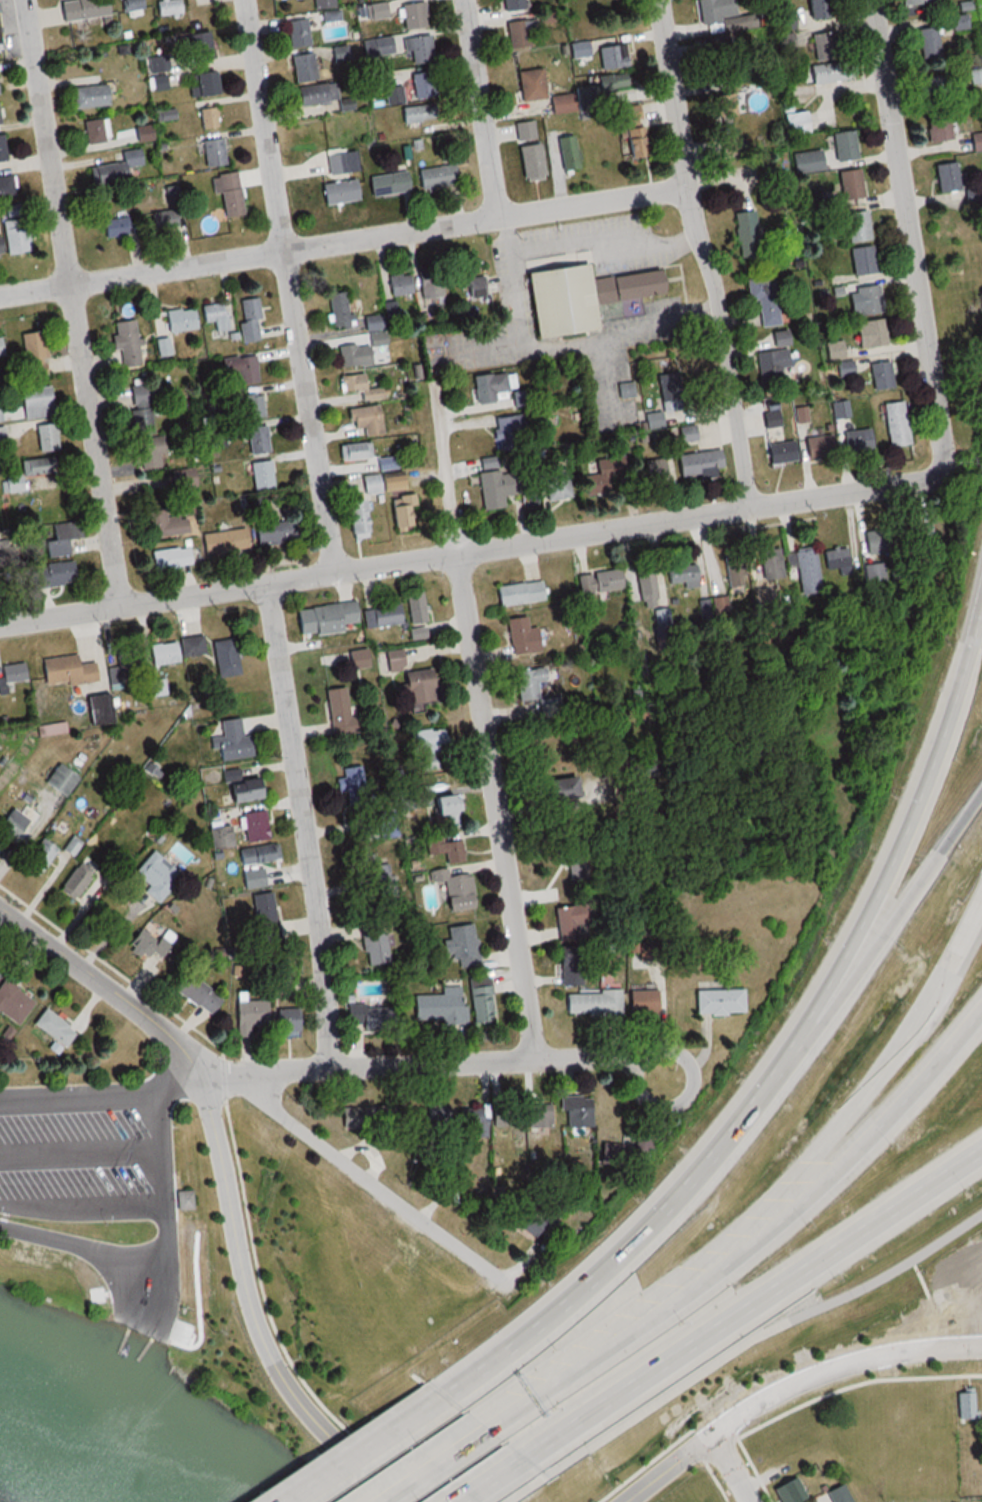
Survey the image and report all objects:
building: (189, 0)
building: (919, 3)
building: (326, 4)
building: (134, 6)
building: (515, 6)
building: (170, 10)
building: (821, 10)
building: (86, 11)
building: (726, 15)
building: (415, 18)
building: (958, 27)
building: (300, 36)
building: (1, 37)
building: (524, 37)
building: (931, 45)
building: (201, 49)
building: (827, 49)
building: (420, 52)
building: (615, 59)
building: (306, 70)
building: (832, 74)
building: (977, 79)
building: (204, 87)
building: (533, 87)
building: (425, 88)
building: (603, 91)
building: (0, 96)
building: (319, 96)
building: (396, 96)
building: (92, 99)
building: (565, 106)
road: (483, 109)
building: (421, 116)
building: (1, 117)
building: (210, 120)
building: (798, 124)
building: (939, 129)
building: (527, 133)
building: (98, 134)
building: (634, 134)
building: (146, 136)
building: (978, 144)
building: (847, 147)
building: (3, 149)
building: (566, 149)
building: (214, 153)
building: (531, 163)
building: (108, 173)
building: (436, 176)
building: (945, 176)
building: (387, 182)
building: (849, 183)
building: (5, 186)
building: (338, 190)
building: (228, 193)
building: (162, 220)
building: (855, 225)
building: (114, 226)
building: (15, 236)
road: (910, 237)
road: (344, 242)
building: (0, 244)
road: (704, 254)
building: (860, 259)
building: (399, 284)
road: (290, 285)
building: (475, 286)
building: (432, 293)
building: (577, 295)
building: (763, 298)
building: (867, 299)
road: (73, 302)
building: (390, 309)
building: (340, 310)
building: (215, 316)
building: (249, 317)
building: (180, 319)
building: (373, 322)
building: (869, 333)
building: (778, 338)
building: (377, 339)
building: (125, 341)
building: (163, 346)
building: (32, 353)
building: (0, 355)
building: (354, 355)
building: (771, 360)
building: (242, 368)
building: (880, 375)
building: (358, 386)
building: (491, 386)
building: (27, 404)
building: (250, 406)
building: (140, 409)
building: (365, 419)
building: (652, 420)
building: (894, 424)
building: (510, 431)
building: (683, 433)
building: (41, 434)
building: (2, 435)
building: (252, 437)
building: (856, 440)
building: (817, 446)
building: (353, 451)
building: (149, 452)
building: (779, 452)
building: (386, 463)
building: (698, 463)
building: (32, 471)
building: (652, 471)
building: (603, 473)
building: (261, 474)
building: (184, 478)
building: (496, 481)
building: (381, 483)
building: (556, 483)
building: (399, 510)
building: (355, 519)
building: (163, 524)
building: (273, 533)
building: (916, 537)
building: (60, 541)
building: (223, 541)
building: (877, 543)
road: (471, 551)
building: (169, 558)
building: (837, 561)
building: (769, 565)
building: (804, 570)
building: (52, 574)
building: (683, 575)
building: (735, 575)
building: (598, 581)
building: (646, 585)
building: (519, 593)
building: (415, 606)
building: (382, 615)
building: (325, 617)
building: (521, 636)
building: (161, 653)
building: (129, 657)
building: (224, 657)
building: (358, 658)
building: (393, 660)
building: (66, 670)
building: (14, 673)
building: (528, 683)
building: (417, 686)
building: (340, 712)
road: (483, 723)
building: (232, 741)
building: (429, 746)
building: (640, 773)
building: (60, 780)
building: (239, 787)
building: (557, 788)
building: (356, 793)
building: (443, 805)
building: (16, 824)
road: (306, 824)
building: (254, 826)
road: (904, 838)
building: (444, 848)
building: (257, 855)
building: (37, 856)
building: (574, 858)
building: (154, 876)
building: (376, 876)
building: (253, 878)
building: (75, 880)
building: (454, 892)
building: (262, 917)
road: (886, 920)
building: (573, 922)
building: (373, 941)
building: (150, 944)
building: (461, 946)
building: (570, 968)
building: (197, 994)
building: (480, 999)
building: (12, 1002)
building: (718, 1002)
building: (640, 1003)
building: (592, 1004)
building: (438, 1007)
building: (369, 1015)
building: (264, 1020)
building: (52, 1028)
road: (440, 1062)
road: (181, 1075)
road: (253, 1094)
road: (80, 1095)
road: (675, 1106)
building: (577, 1111)
building: (507, 1115)
building: (539, 1116)
building: (368, 1117)
building: (474, 1118)
building: (439, 1120)
building: (641, 1144)
road: (81, 1151)
building: (186, 1199)
road: (82, 1205)
building: (525, 1219)
road: (752, 1241)
road: (157, 1250)
road: (644, 1252)
road: (249, 1293)
road: (141, 1307)
road: (751, 1307)
road: (840, 1367)
building: (964, 1403)
river: (82, 1447)
road: (385, 1454)
road: (431, 1465)
road: (669, 1467)
road: (732, 1467)
road: (485, 1479)
building: (787, 1490)
road: (395, 1494)
building: (837, 1494)
park: (6, 1499)

